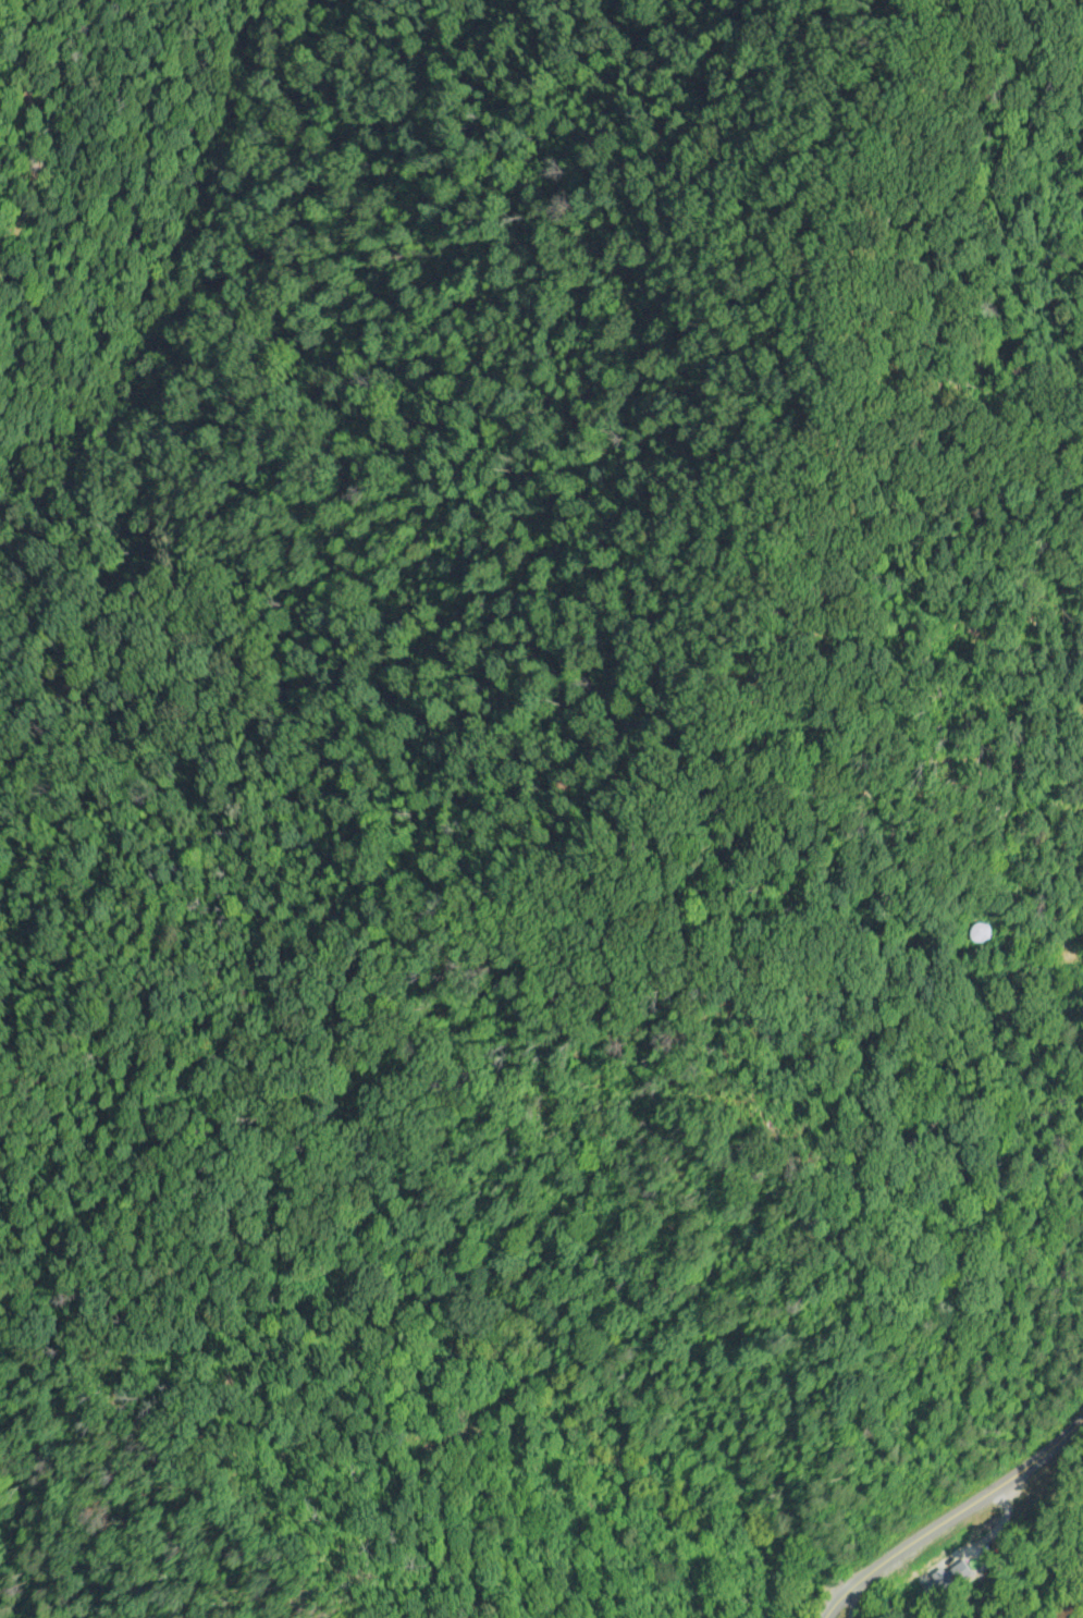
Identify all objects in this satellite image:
road: (950, 1518)

